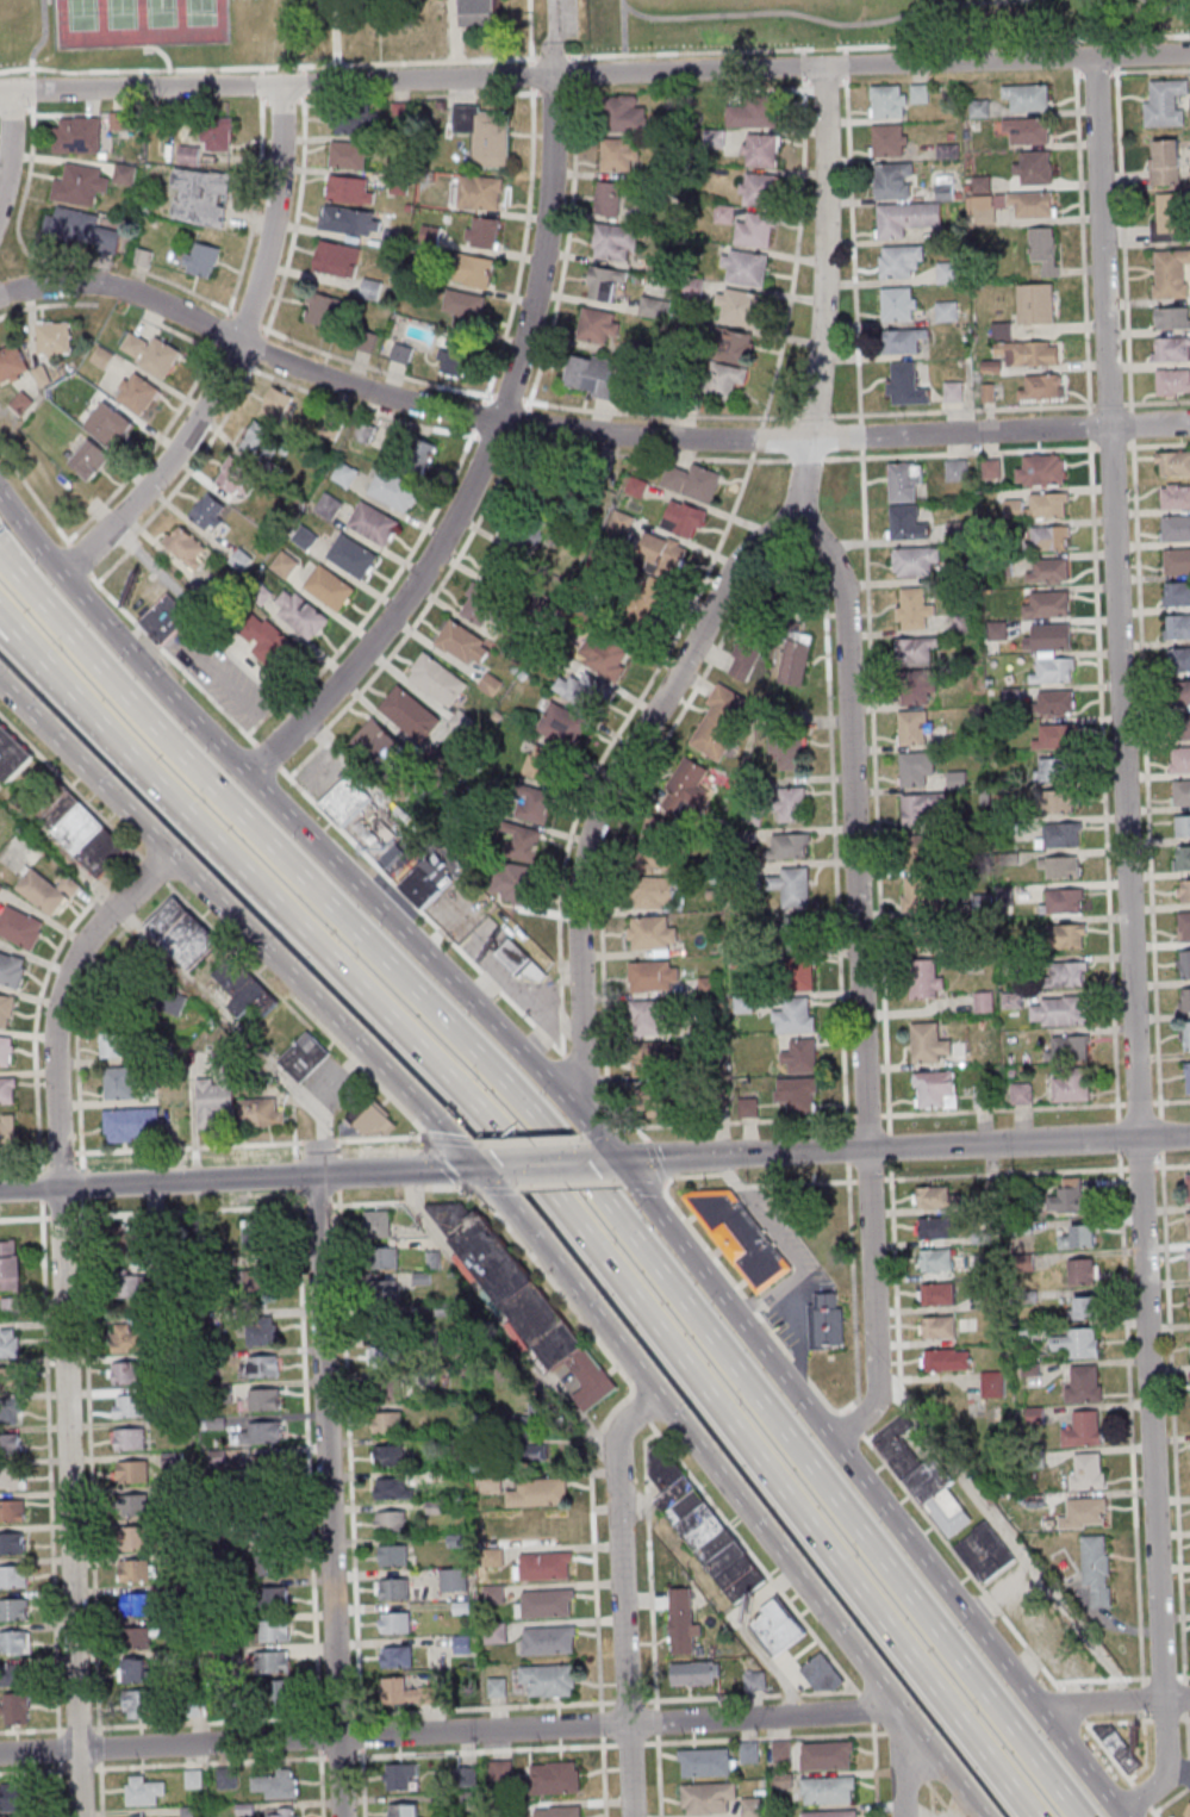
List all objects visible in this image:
road: (623, 2)
road: (1169, 6)
park: (200, 12)
building: (479, 12)
park: (120, 13)
park: (160, 13)
park: (80, 14)
parking lot: (560, 18)
park: (867, 20)
road: (822, 21)
road: (453, 31)
road: (623, 31)
road: (332, 32)
park: (137, 33)
road: (41, 35)
road: (528, 38)
road: (550, 38)
road: (880, 45)
road: (161, 52)
road: (554, 57)
road: (1074, 64)
road: (871, 66)
road: (268, 67)
road: (846, 71)
road: (804, 73)
road: (417, 81)
road: (141, 89)
building: (921, 92)
building: (1027, 97)
building: (889, 100)
building: (1165, 104)
building: (752, 112)
road: (31, 113)
building: (628, 113)
building: (119, 120)
building: (356, 120)
building: (1027, 130)
building: (486, 133)
building: (77, 135)
building: (218, 135)
building: (889, 139)
road: (7, 149)
building: (761, 150)
building: (948, 150)
building: (351, 153)
building: (619, 155)
building: (1164, 161)
building: (1034, 168)
building: (125, 175)
building: (893, 180)
building: (980, 183)
building: (80, 185)
building: (945, 187)
building: (349, 189)
building: (759, 189)
building: (481, 192)
building: (201, 197)
building: (609, 200)
building: (1009, 205)
building: (1171, 216)
building: (906, 218)
building: (350, 219)
building: (73, 224)
building: (756, 230)
building: (482, 232)
building: (615, 243)
building: (1045, 248)
road: (853, 249)
road: (796, 253)
building: (201, 259)
building: (337, 259)
building: (901, 260)
building: (747, 269)
building: (478, 270)
building: (948, 272)
building: (1170, 273)
building: (605, 285)
building: (370, 288)
road: (123, 290)
road: (823, 298)
building: (899, 303)
building: (1035, 303)
building: (466, 307)
building: (740, 307)
building: (324, 310)
building: (946, 310)
building: (1173, 318)
building: (599, 325)
building: (1001, 330)
building: (54, 338)
building: (902, 341)
building: (1171, 349)
building: (1029, 351)
building: (151, 354)
road: (231, 354)
building: (401, 354)
building: (102, 357)
building: (455, 359)
building: (729, 362)
building: (12, 365)
building: (591, 375)
building: (1172, 381)
building: (905, 385)
building: (1042, 386)
building: (953, 391)
building: (139, 393)
building: (279, 405)
building: (110, 424)
building: (363, 433)
road: (860, 435)
road: (756, 438)
road: (706, 440)
building: (263, 441)
building: (89, 459)
road: (481, 460)
building: (1172, 462)
building: (991, 468)
building: (1041, 468)
building: (955, 469)
building: (344, 475)
building: (235, 477)
building: (904, 480)
building: (693, 483)
building: (637, 487)
building: (549, 489)
building: (394, 491)
road: (33, 494)
building: (1176, 496)
building: (1036, 505)
building: (329, 506)
building: (210, 512)
building: (685, 519)
building: (908, 523)
building: (373, 524)
building: (1176, 528)
building: (305, 537)
building: (1048, 537)
building: (186, 548)
building: (509, 554)
building: (663, 554)
building: (353, 556)
road: (79, 558)
building: (241, 560)
building: (915, 560)
building: (1176, 561)
building: (285, 564)
road: (10, 568)
building: (1048, 571)
building: (329, 587)
road: (1096, 593)
building: (1176, 595)
building: (1045, 603)
building: (479, 604)
building: (648, 604)
building: (914, 608)
road: (839, 612)
building: (300, 614)
road: (829, 614)
building: (166, 618)
building: (1176, 626)
road: (11, 631)
road: (11, 637)
building: (1048, 637)
building: (463, 642)
building: (270, 643)
building: (916, 649)
building: (605, 654)
building: (740, 657)
building: (796, 658)
road: (172, 659)
building: (1179, 659)
building: (1053, 670)
building: (437, 679)
building: (491, 683)
building: (916, 686)
building: (579, 690)
building: (1180, 692)
building: (1053, 702)
road: (179, 705)
building: (410, 714)
building: (461, 721)
road: (624, 721)
building: (719, 722)
building: (562, 724)
building: (1182, 726)
building: (914, 727)
building: (1057, 736)
building: (376, 745)
building: (787, 751)
building: (11, 755)
road: (268, 755)
building: (1179, 759)
building: (544, 764)
building: (916, 769)
road: (70, 785)
building: (1063, 785)
building: (686, 789)
building: (1180, 791)
road: (606, 792)
building: (344, 801)
building: (536, 804)
building: (792, 804)
building: (924, 810)
building: (1182, 825)
building: (82, 834)
building: (1061, 834)
building: (524, 841)
building: (661, 842)
building: (790, 846)
building: (922, 853)
building: (1182, 857)
building: (1059, 866)
road: (152, 869)
building: (515, 882)
building: (792, 886)
building: (1183, 889)
building: (46, 890)
building: (654, 894)
building: (918, 896)
building: (1063, 900)
road: (422, 910)
building: (1183, 926)
building: (20, 927)
building: (653, 933)
building: (181, 934)
building: (799, 934)
building: (1067, 935)
road: (837, 936)
road: (1129, 946)
road: (881, 952)
road: (162, 957)
building: (515, 957)
building: (1183, 963)
building: (12, 969)
building: (799, 972)
building: (1066, 973)
building: (654, 976)
building: (927, 978)
road: (859, 984)
building: (245, 989)
road: (39, 996)
building: (1184, 998)
building: (984, 1001)
road: (83, 1003)
road: (303, 1007)
building: (6, 1010)
building: (1058, 1010)
building: (796, 1015)
building: (647, 1018)
road: (560, 1021)
building: (1185, 1034)
building: (930, 1043)
road: (560, 1044)
building: (116, 1045)
building: (1071, 1046)
building: (6, 1051)
road: (605, 1053)
building: (800, 1056)
building: (304, 1057)
building: (652, 1059)
building: (1188, 1076)
road: (586, 1078)
road: (1158, 1083)
building: (120, 1084)
building: (1072, 1085)
building: (935, 1089)
building: (217, 1091)
building: (7, 1093)
building: (1022, 1094)
building: (798, 1095)
road: (295, 1100)
road: (1170, 1100)
road: (1138, 1102)
building: (263, 1113)
road: (868, 1115)
building: (368, 1121)
building: (131, 1126)
road: (598, 1132)
building: (7, 1133)
road: (1160, 1134)
road: (1119, 1135)
road: (380, 1138)
road: (529, 1139)
road: (450, 1140)
road: (318, 1141)
road: (338, 1146)
road: (891, 1147)
road: (150, 1149)
traffic signals: (616, 1160)
road: (447, 1163)
road: (1171, 1164)
road: (549, 1165)
road: (1140, 1166)
traffic signals: (474, 1168)
road: (338, 1170)
road: (1005, 1172)
road: (577, 1174)
road: (251, 1177)
road: (731, 1180)
road: (815, 1182)
road: (82, 1183)
road: (663, 1183)
road: (568, 1184)
road: (39, 1187)
road: (497, 1188)
building: (1188, 1188)
building: (1067, 1195)
building: (935, 1196)
road: (554, 1205)
road: (316, 1206)
road: (149, 1212)
building: (378, 1224)
road: (521, 1224)
building: (1188, 1224)
building: (935, 1227)
building: (257, 1234)
building: (183, 1237)
building: (741, 1237)
building: (1078, 1237)
building: (124, 1239)
building: (382, 1258)
building: (935, 1259)
building: (1188, 1261)
building: (10, 1264)
building: (1084, 1271)
building: (256, 1281)
building: (132, 1287)
building: (935, 1294)
building: (382, 1296)
building: (1189, 1302)
building: (1083, 1307)
road: (63, 1314)
building: (825, 1320)
building: (937, 1326)
building: (262, 1330)
building: (127, 1338)
building: (1076, 1342)
building: (10, 1343)
building: (563, 1351)
road: (762, 1351)
building: (384, 1356)
building: (945, 1359)
road: (613, 1362)
building: (263, 1365)
building: (123, 1373)
building: (10, 1379)
building: (992, 1383)
building: (1083, 1383)
building: (388, 1389)
building: (264, 1400)
building: (131, 1406)
road: (640, 1407)
building: (11, 1411)
road: (1130, 1419)
building: (388, 1421)
road: (853, 1423)
road: (324, 1425)
building: (1083, 1429)
building: (267, 1433)
building: (129, 1438)
building: (11, 1443)
building: (525, 1445)
road: (602, 1446)
building: (393, 1455)
road: (644, 1458)
building: (173, 1460)
road: (307, 1461)
road: (91, 1463)
road: (49, 1468)
building: (264, 1468)
building: (132, 1470)
building: (1086, 1470)
building: (12, 1476)
building: (923, 1477)
building: (491, 1483)
building: (393, 1488)
road: (1176, 1491)
building: (540, 1493)
road: (350, 1502)
building: (139, 1505)
road: (647, 1507)
building: (12, 1510)
building: (1085, 1511)
building: (391, 1520)
building: (702, 1526)
building: (135, 1537)
building: (456, 1542)
building: (13, 1543)
building: (984, 1552)
building: (393, 1555)
road: (753, 1557)
building: (269, 1558)
road: (960, 1562)
building: (546, 1566)
building: (1096, 1568)
building: (136, 1572)
building: (13, 1576)
building: (455, 1581)
building: (393, 1589)
road: (621, 1597)
building: (273, 1598)
building: (547, 1604)
building: (138, 1605)
building: (14, 1608)
road: (650, 1614)
building: (683, 1622)
building: (394, 1623)
building: (775, 1626)
building: (273, 1631)
building: (497, 1632)
building: (138, 1639)
building: (549, 1639)
building: (14, 1642)
building: (466, 1645)
building: (397, 1657)
building: (275, 1661)
building: (136, 1673)
building: (696, 1673)
building: (821, 1674)
road: (1184, 1674)
building: (13, 1675)
road: (1163, 1675)
building: (549, 1679)
road: (1099, 1679)
building: (755, 1681)
building: (497, 1687)
building: (405, 1693)
road: (1142, 1699)
road: (1114, 1703)
building: (139, 1704)
road: (1071, 1705)
road: (473, 1707)
building: (15, 1709)
road: (655, 1720)
road: (602, 1723)
road: (77, 1728)
road: (31, 1729)
road: (887, 1731)
road: (449, 1732)
road: (892, 1736)
road: (765, 1737)
parking lot: (1189, 1741)
road: (630, 1743)
road: (99, 1744)
road: (58, 1748)
building: (781, 1751)
building: (750, 1753)
road: (355, 1756)
building: (827, 1756)
road: (899, 1761)
building: (705, 1762)
road: (80, 1768)
building: (499, 1769)
road: (33, 1771)
building: (401, 1775)
road: (604, 1775)
road: (659, 1775)
building: (556, 1776)
building: (193, 1778)
building: (226, 1778)
road: (1129, 1778)
building: (783, 1781)
building: (276, 1784)
road: (100, 1788)
road: (60, 1790)
building: (143, 1790)
building: (828, 1791)
building: (20, 1797)
building: (708, 1798)
road: (1142, 1798)
road: (941, 1799)
building: (750, 1807)
building: (405, 1810)
building: (560, 1811)
building: (284, 1812)
building: (1188, 1812)
building: (830, 1815)
building: (143, 1816)

